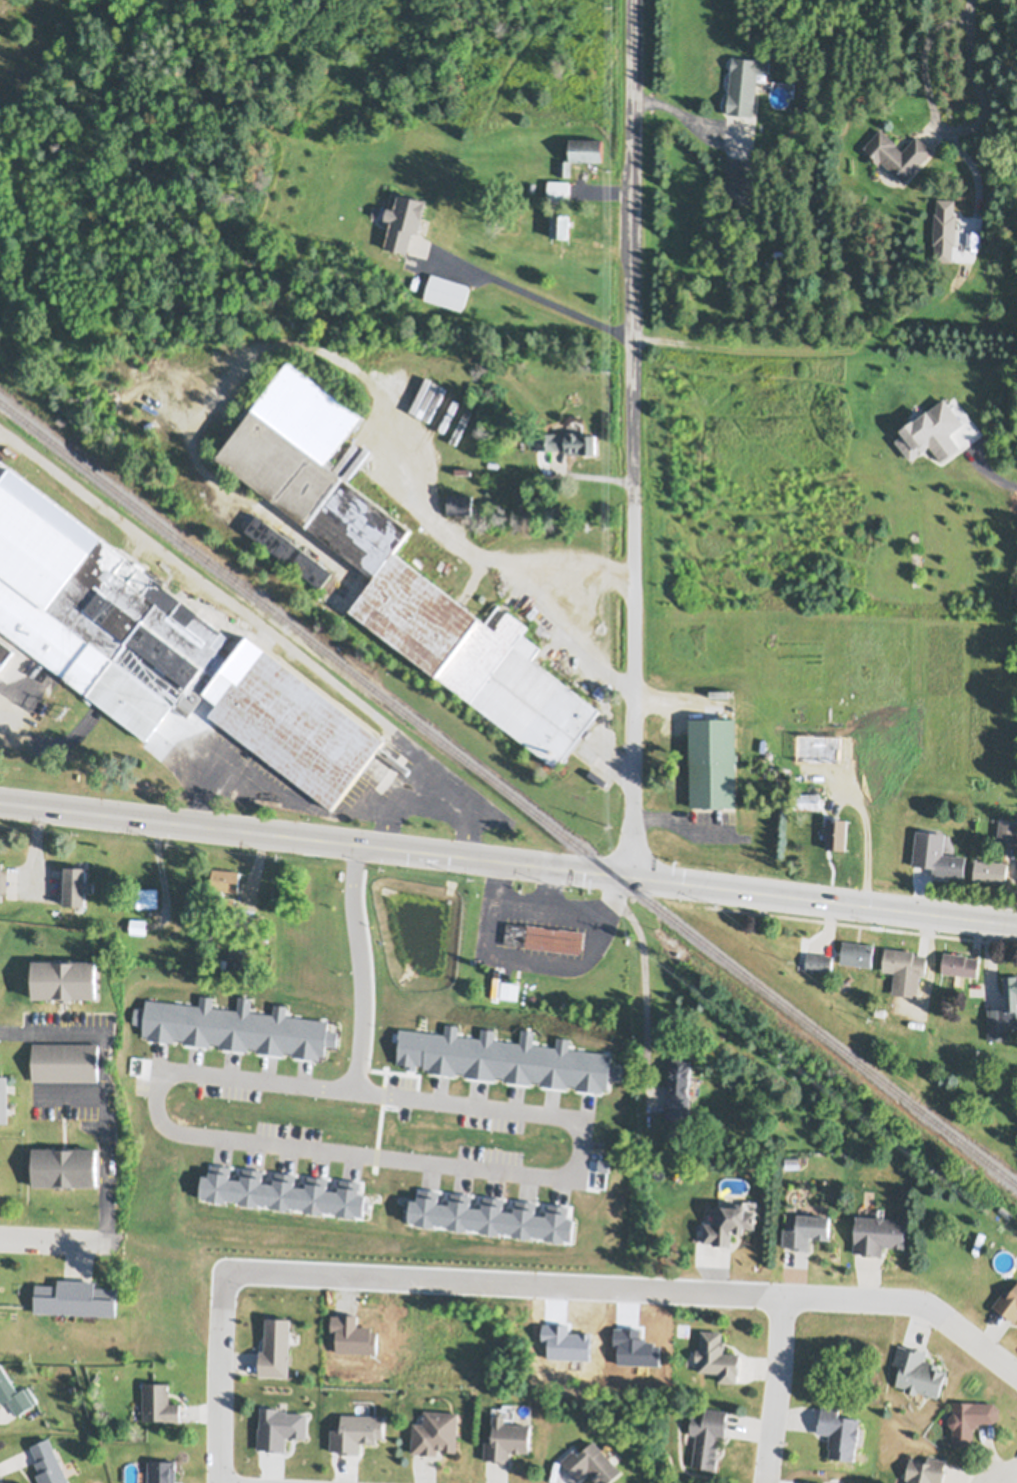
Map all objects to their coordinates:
road: (973, 4)
building: (744, 86)
road: (681, 112)
road: (947, 128)
building: (581, 157)
building: (897, 157)
building: (735, 178)
building: (531, 189)
building: (587, 190)
building: (558, 193)
building: (403, 225)
building: (560, 232)
building: (944, 232)
road: (530, 293)
building: (447, 295)
road: (634, 438)
building: (569, 447)
building: (528, 461)
building: (460, 509)
building: (288, 545)
road: (474, 546)
building: (402, 563)
road: (579, 611)
building: (159, 641)
building: (4, 648)
building: (839, 748)
building: (892, 753)
building: (713, 756)
road: (227, 760)
railway: (508, 793)
building: (806, 798)
road: (432, 799)
building: (1007, 827)
building: (837, 829)
road: (31, 841)
building: (936, 851)
road: (508, 862)
building: (990, 867)
building: (225, 876)
building: (3, 877)
building: (74, 880)
building: (144, 894)
building: (225, 902)
building: (324, 922)
building: (138, 923)
building: (554, 936)
building: (128, 937)
building: (857, 950)
building: (819, 959)
building: (960, 961)
building: (906, 964)
building: (65, 973)
building: (264, 988)
building: (510, 988)
building: (1004, 1009)
building: (879, 1010)
road: (39, 1032)
building: (66, 1058)
building: (679, 1086)
building: (4, 1092)
road: (272, 1141)
building: (64, 1162)
building: (728, 1219)
building: (806, 1227)
building: (878, 1230)
road: (47, 1240)
road: (423, 1273)
road: (714, 1286)
building: (76, 1294)
building: (1007, 1301)
road: (912, 1305)
building: (276, 1344)
building: (717, 1354)
building: (917, 1369)
road: (221, 1385)
building: (14, 1389)
road: (776, 1391)
building: (160, 1400)
building: (969, 1417)
building: (436, 1428)
building: (356, 1429)
building: (839, 1429)
building: (507, 1435)
building: (707, 1435)
building: (592, 1459)
building: (50, 1461)
building: (925, 1469)
road: (1011, 1476)

